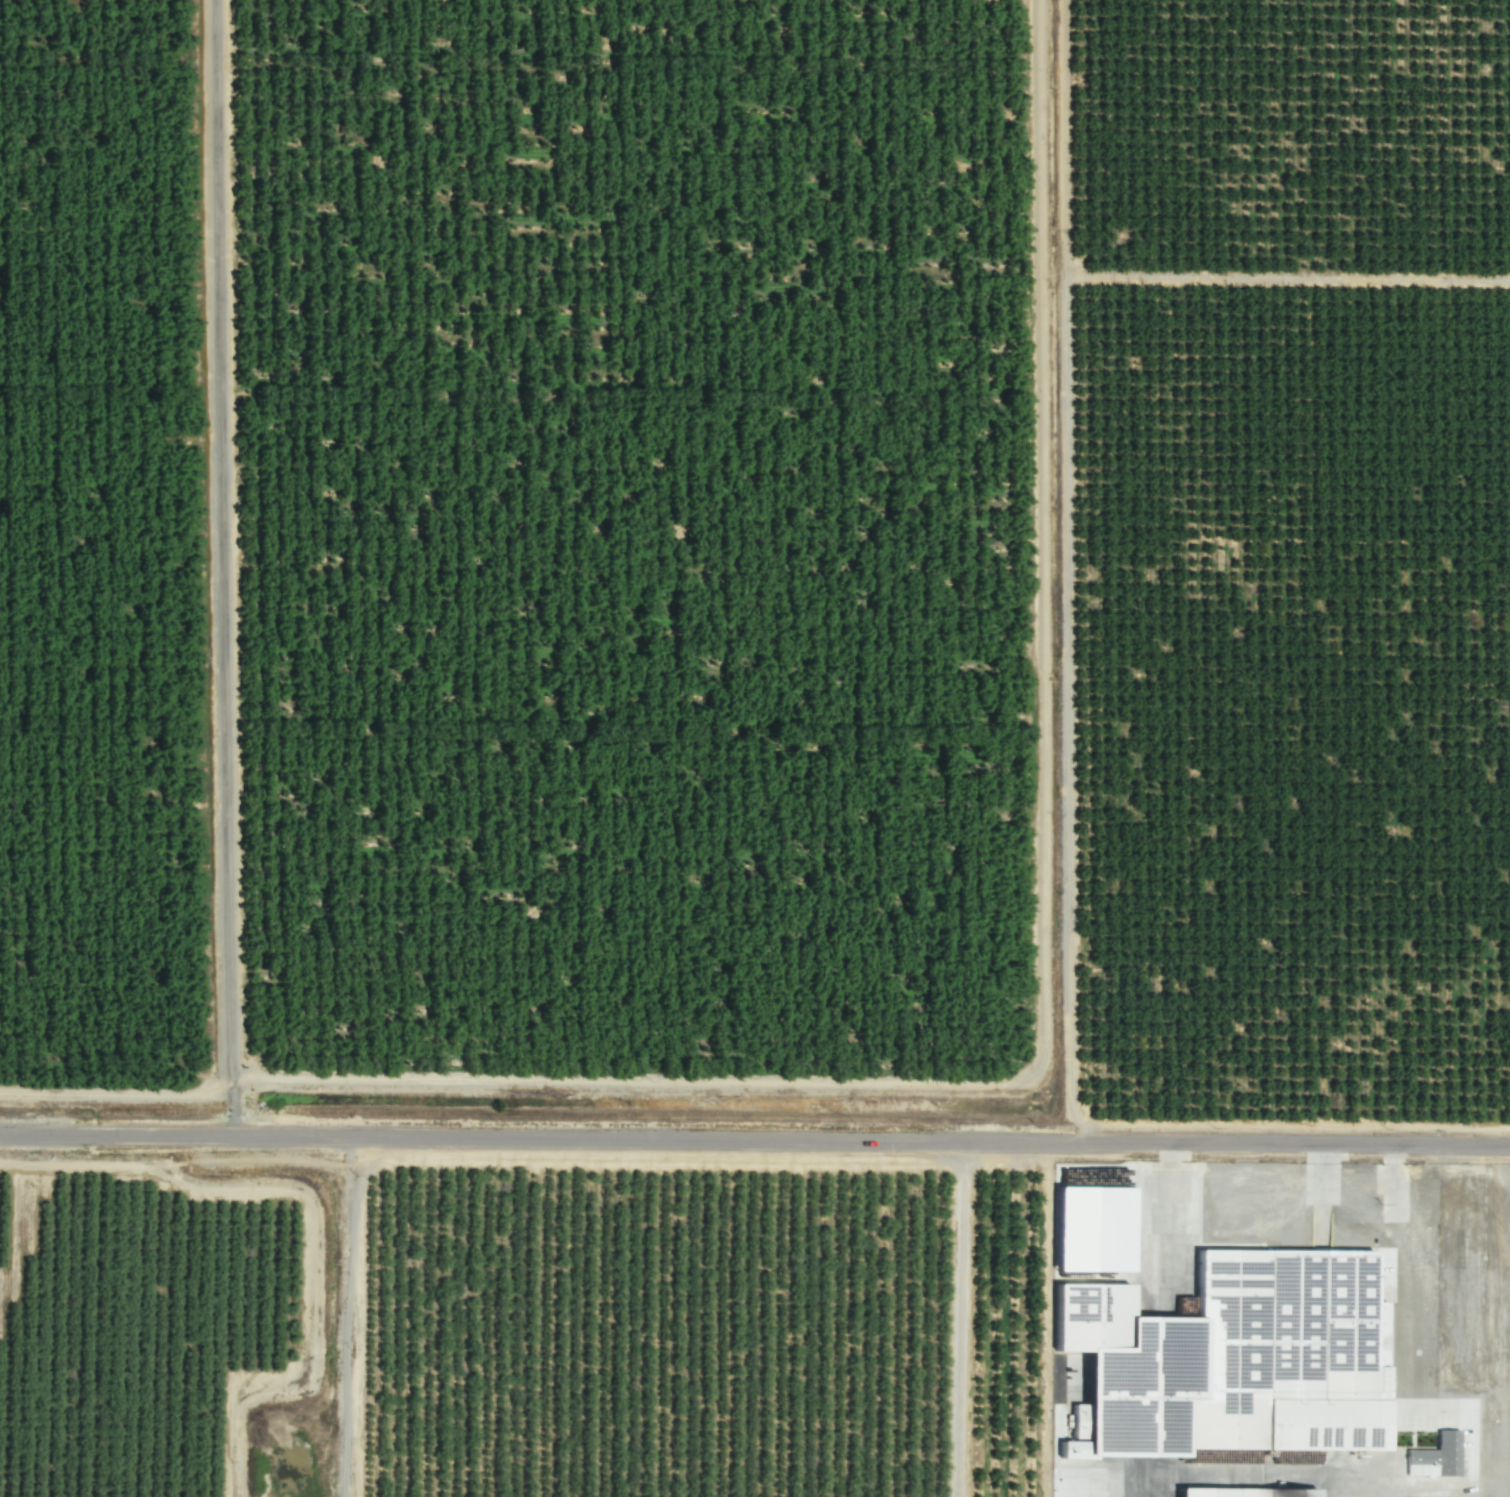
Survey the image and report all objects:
road: (754, 1140)
road: (1374, 1180)
road: (1247, 1181)
building: (1084, 1230)
road: (345, 1314)
road: (960, 1319)
road: (1468, 1323)
building: (1235, 1353)
building: (1432, 1458)
building: (1238, 1493)

